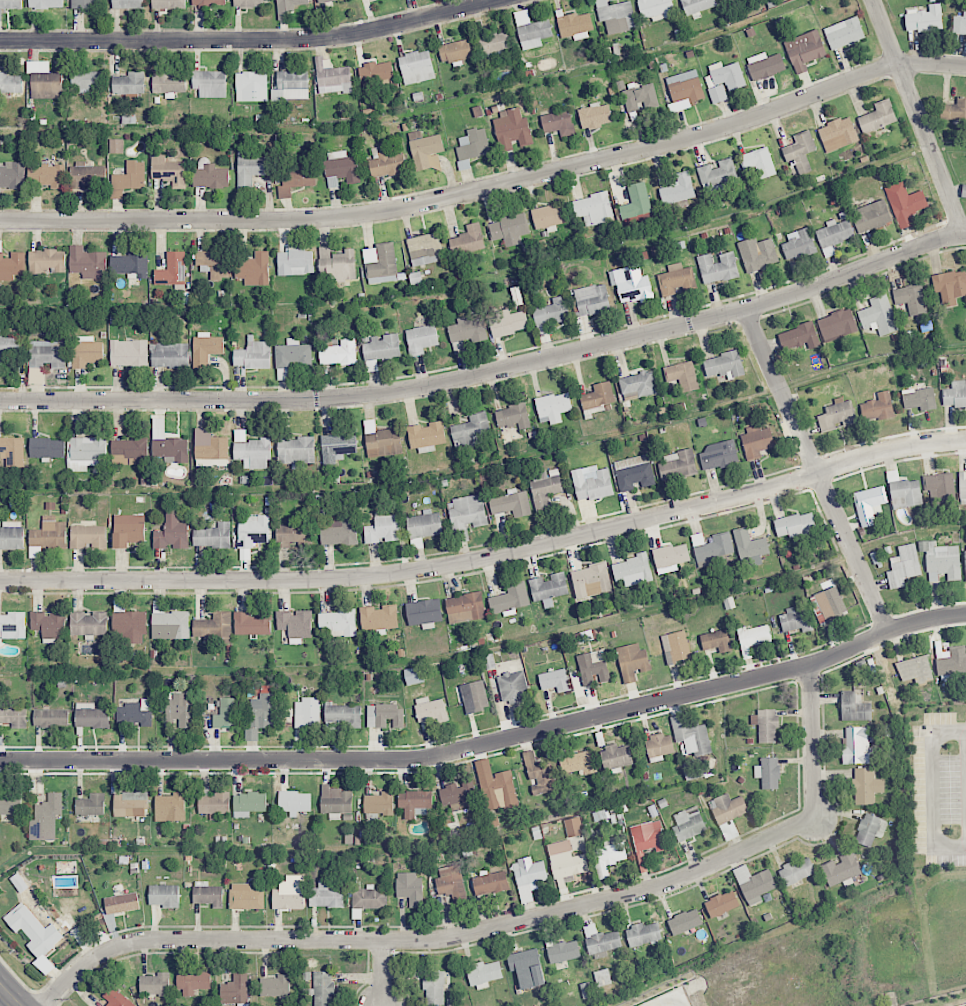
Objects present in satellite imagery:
building: (325, 0)
building: (208, 2)
building: (45, 3)
building: (85, 3)
building: (251, 3)
building: (127, 4)
building: (168, 4)
building: (9, 5)
building: (289, 5)
building: (696, 5)
building: (656, 9)
building: (616, 16)
building: (924, 19)
building: (959, 24)
building: (575, 25)
building: (531, 30)
building: (844, 33)
road: (252, 41)
building: (494, 44)
building: (804, 50)
building: (455, 51)
building: (765, 65)
building: (416, 67)
building: (376, 72)
building: (331, 77)
building: (44, 80)
building: (86, 80)
building: (723, 80)
building: (168, 82)
building: (10, 83)
building: (129, 83)
building: (210, 83)
building: (251, 86)
building: (290, 86)
building: (685, 86)
building: (640, 98)
building: (954, 110)
building: (594, 115)
building: (877, 117)
road: (919, 117)
building: (558, 122)
building: (511, 129)
building: (837, 134)
building: (473, 144)
building: (116, 145)
building: (425, 150)
building: (800, 151)
building: (759, 162)
building: (387, 164)
building: (250, 167)
building: (341, 168)
building: (168, 171)
building: (12, 175)
building: (47, 175)
building: (87, 176)
building: (210, 176)
building: (298, 176)
building: (718, 176)
building: (128, 179)
road: (490, 185)
building: (678, 189)
building: (964, 192)
building: (905, 203)
building: (593, 208)
building: (549, 215)
building: (871, 216)
building: (508, 229)
building: (834, 235)
building: (468, 240)
building: (799, 244)
building: (423, 249)
building: (758, 253)
building: (47, 261)
building: (88, 262)
building: (213, 262)
building: (295, 262)
building: (130, 264)
building: (338, 264)
building: (380, 264)
building: (11, 266)
building: (718, 267)
building: (172, 269)
building: (254, 269)
building: (676, 279)
building: (631, 283)
building: (950, 286)
building: (592, 299)
building: (911, 299)
building: (551, 311)
building: (878, 316)
building: (507, 322)
building: (838, 325)
building: (467, 329)
building: (800, 336)
building: (421, 339)
building: (8, 347)
building: (382, 347)
building: (205, 348)
building: (86, 351)
building: (339, 352)
building: (47, 353)
building: (129, 353)
building: (293, 354)
building: (170, 355)
building: (253, 355)
building: (723, 365)
road: (492, 373)
building: (683, 375)
building: (638, 385)
building: (955, 394)
building: (597, 398)
building: (919, 398)
building: (879, 406)
building: (553, 407)
building: (836, 415)
building: (513, 416)
building: (470, 429)
building: (427, 436)
building: (381, 439)
building: (756, 441)
building: (168, 444)
building: (209, 446)
building: (47, 447)
building: (337, 447)
building: (251, 450)
building: (295, 450)
building: (13, 451)
building: (129, 451)
building: (86, 453)
building: (718, 455)
building: (678, 464)
road: (817, 469)
building: (634, 472)
building: (592, 482)
building: (545, 487)
building: (940, 487)
building: (962, 487)
building: (905, 493)
building: (511, 504)
building: (869, 504)
building: (467, 512)
building: (795, 525)
building: (423, 527)
building: (382, 528)
building: (128, 530)
building: (254, 530)
building: (171, 532)
building: (339, 532)
building: (48, 533)
building: (293, 533)
building: (11, 535)
building: (88, 536)
building: (212, 536)
building: (711, 548)
building: (750, 548)
building: (670, 557)
road: (489, 559)
building: (965, 559)
building: (941, 561)
building: (903, 566)
building: (632, 570)
building: (591, 580)
building: (548, 588)
building: (510, 600)
building: (828, 604)
building: (465, 607)
building: (424, 612)
building: (379, 618)
building: (796, 620)
building: (338, 622)
building: (89, 623)
building: (169, 623)
building: (252, 623)
building: (49, 624)
building: (128, 624)
building: (295, 624)
building: (12, 625)
building: (213, 626)
building: (752, 637)
building: (716, 640)
building: (676, 646)
building: (950, 660)
building: (632, 661)
building: (593, 667)
building: (915, 669)
building: (414, 675)
building: (554, 680)
building: (512, 687)
building: (474, 696)
building: (855, 707)
building: (430, 709)
building: (179, 710)
building: (264, 711)
building: (135, 712)
building: (307, 712)
building: (227, 713)
building: (91, 715)
building: (343, 715)
building: (384, 715)
building: (13, 717)
building: (50, 718)
building: (765, 725)
building: (251, 734)
building: (691, 735)
road: (491, 743)
road: (812, 743)
building: (856, 745)
building: (659, 747)
building: (616, 757)
building: (579, 762)
building: (768, 772)
building: (538, 774)
building: (498, 783)
building: (865, 786)
road: (932, 790)
building: (457, 794)
building: (335, 800)
building: (213, 802)
building: (294, 802)
building: (414, 802)
building: (10, 803)
building: (248, 803)
building: (378, 803)
building: (129, 804)
building: (90, 805)
building: (170, 807)
building: (728, 807)
building: (46, 818)
building: (688, 823)
building: (573, 827)
building: (870, 829)
building: (609, 854)
building: (566, 860)
building: (842, 869)
building: (797, 871)
building: (528, 877)
building: (450, 882)
building: (490, 882)
building: (19, 883)
building: (754, 883)
building: (410, 888)
building: (289, 893)
building: (207, 894)
building: (163, 895)
building: (326, 895)
building: (245, 896)
building: (369, 898)
building: (121, 903)
building: (721, 903)
building: (684, 921)
building: (35, 934)
building: (643, 934)
road: (427, 941)
building: (600, 941)
building: (563, 951)
building: (527, 968)
building: (484, 973)
road: (380, 974)
building: (602, 977)
building: (193, 982)
building: (155, 984)
building: (275, 985)
building: (434, 987)
building: (323, 988)
building: (235, 989)
building: (586, 990)
road: (9, 996)
building: (117, 998)
road: (669, 1003)

